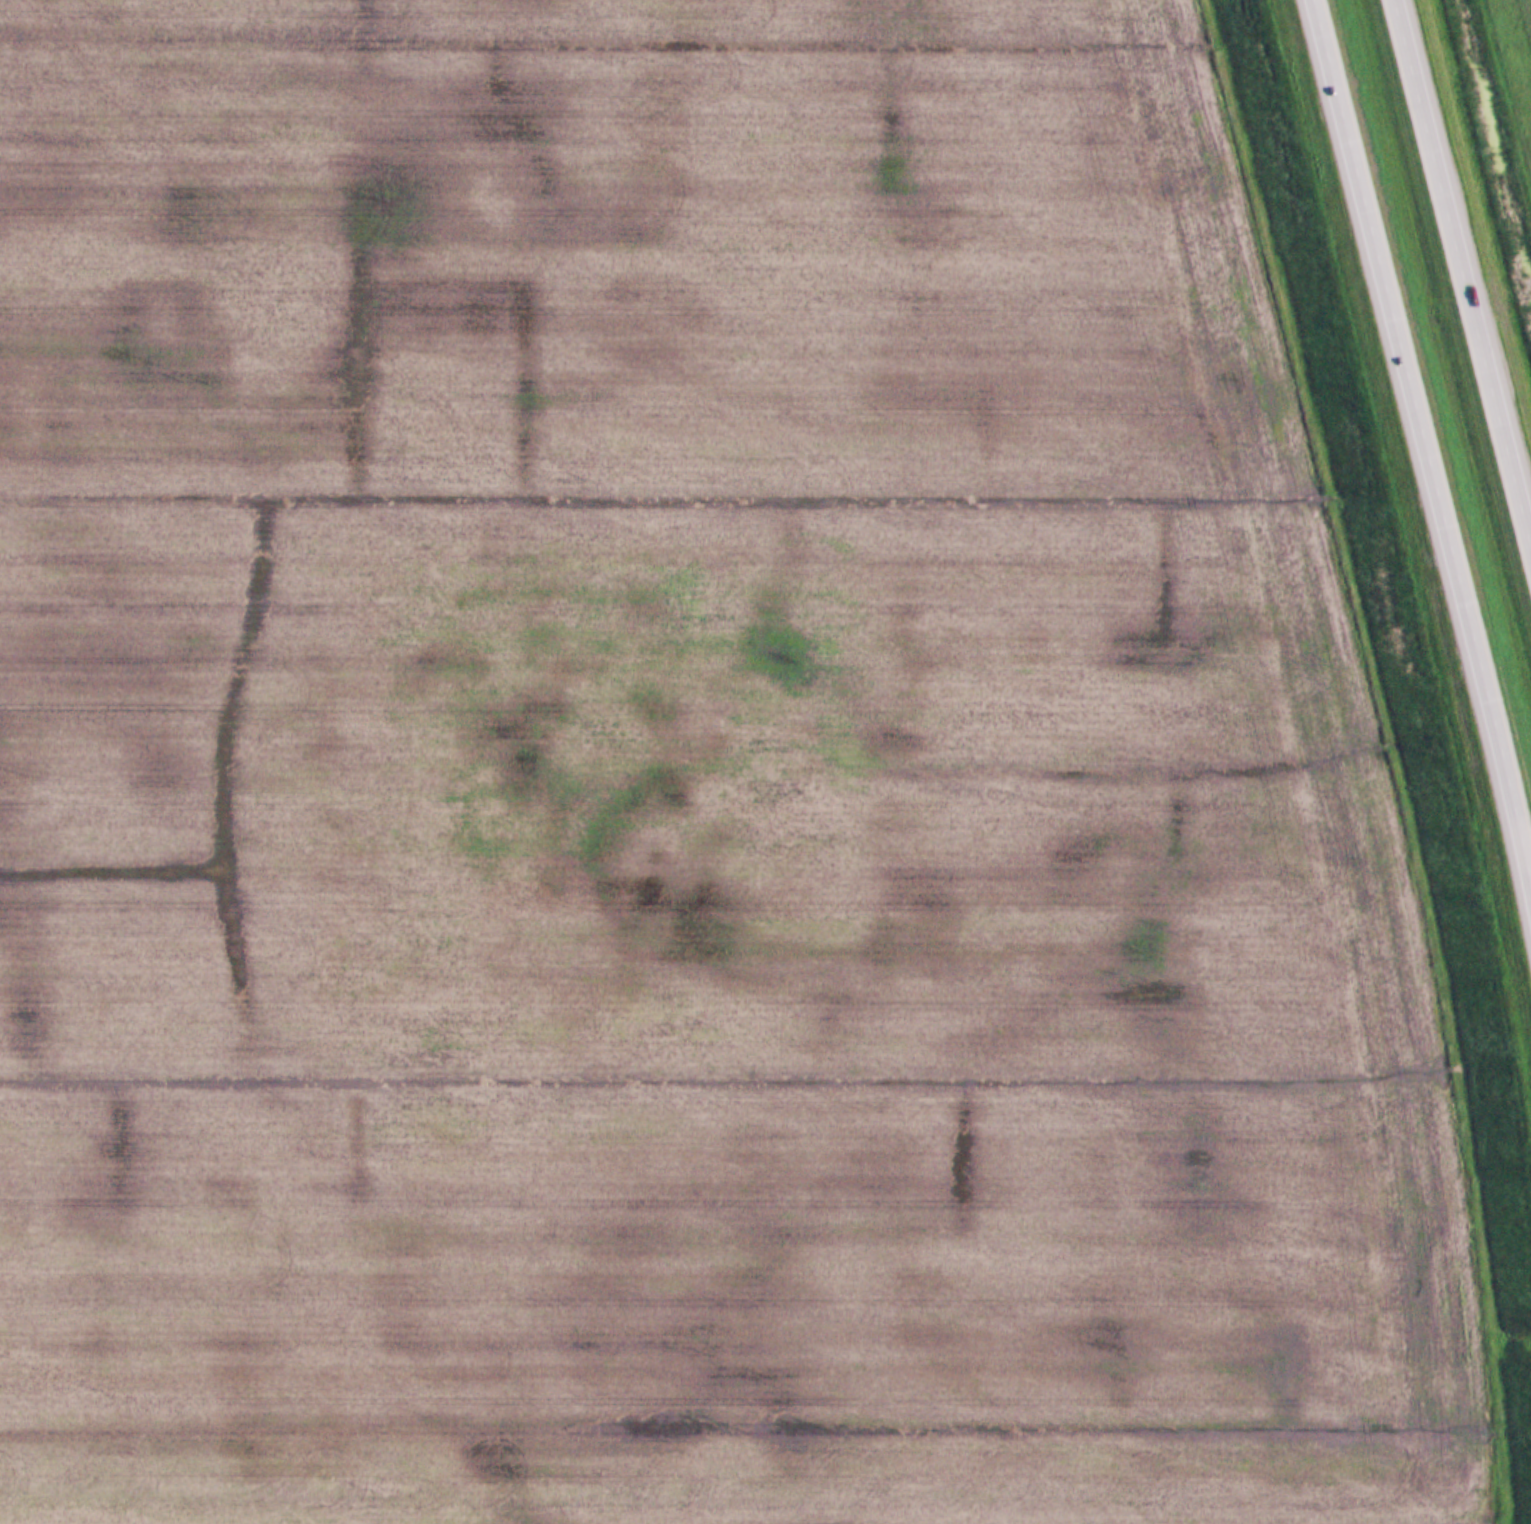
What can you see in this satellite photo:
road: (1462, 269)
road: (1428, 426)

